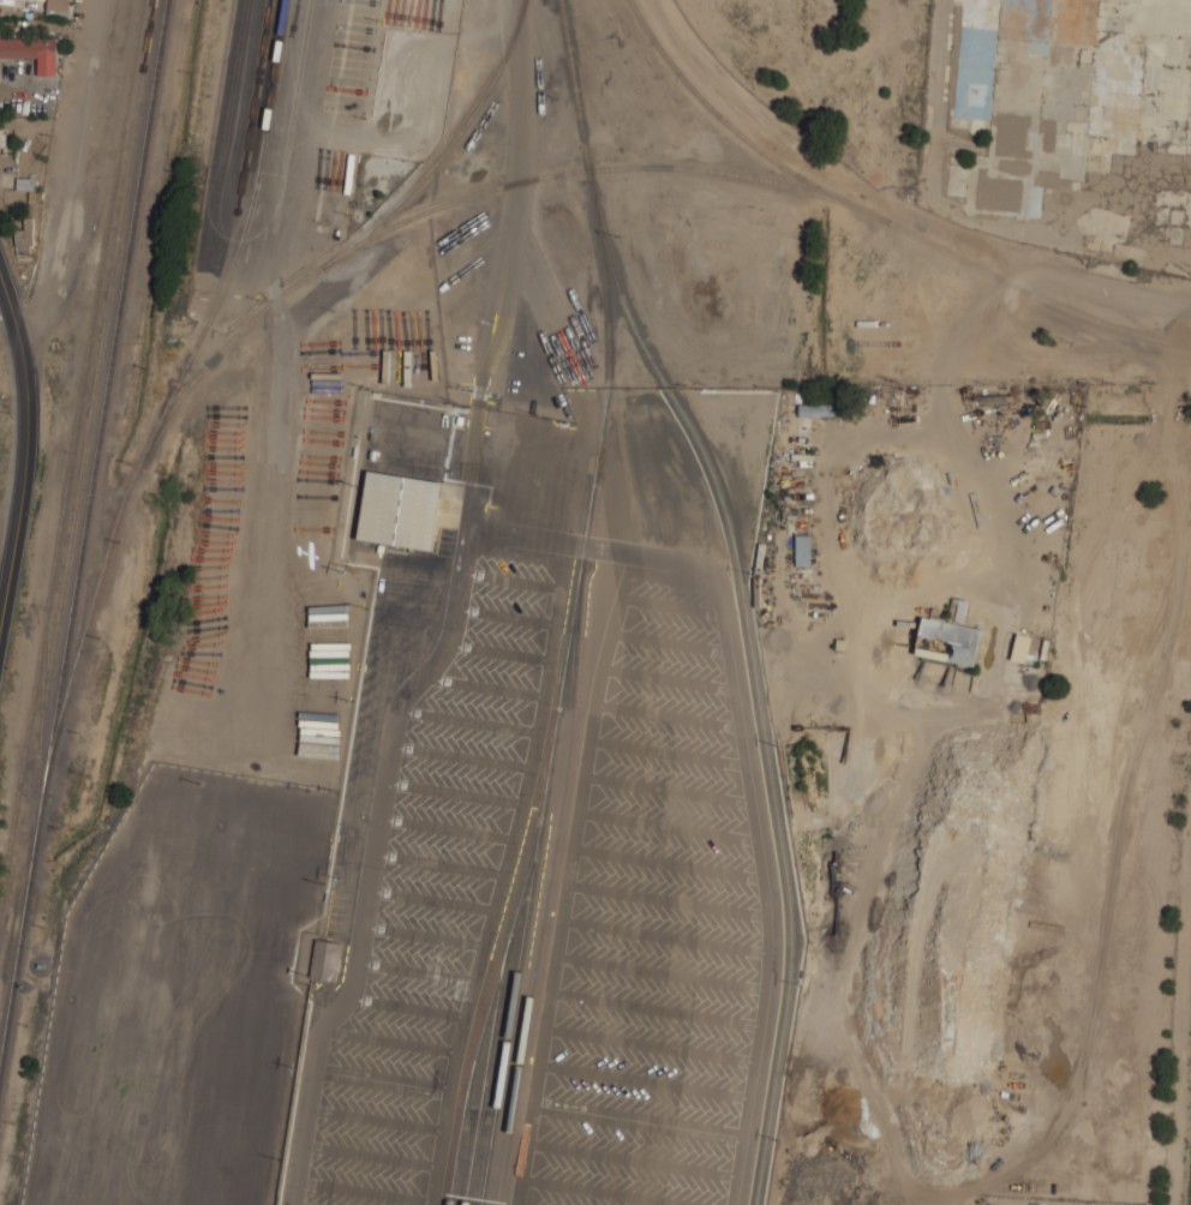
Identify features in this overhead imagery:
building: (56, 7)
building: (32, 50)
building: (0, 134)
railway: (447, 149)
railway: (598, 168)
road: (66, 180)
road: (509, 216)
railway: (879, 217)
building: (24, 236)
railway: (241, 240)
railway: (92, 310)
road: (13, 317)
railway: (221, 354)
railway: (96, 372)
building: (821, 409)
road: (474, 480)
road: (20, 498)
building: (399, 509)
railway: (83, 535)
road: (537, 539)
building: (802, 550)
road: (513, 581)
railway: (575, 604)
road: (671, 605)
road: (507, 616)
railway: (86, 628)
building: (947, 641)
road: (669, 642)
building: (1019, 647)
road: (499, 652)
road: (666, 677)
railway: (43, 682)
road: (485, 688)
railway: (760, 699)
road: (666, 714)
road: (469, 723)
road: (668, 751)
road: (460, 757)
railway: (40, 765)
railway: (23, 769)
road: (668, 789)
road: (453, 792)
road: (668, 826)
road: (445, 829)
road: (754, 829)
road: (371, 862)
road: (666, 863)
road: (438, 865)
road: (504, 875)
road: (568, 876)
parking lot: (432, 893)
road: (666, 899)
road: (431, 900)
railway: (544, 903)
parking lot: (654, 929)
road: (423, 935)
road: (665, 936)
building: (324, 960)
road: (415, 972)
road: (660, 972)
road: (407, 1007)
road: (656, 1008)
railway: (511, 1013)
road: (390, 1042)
road: (651, 1044)
railway: (472, 1071)
road: (383, 1080)
road: (646, 1081)
road: (377, 1119)
road: (639, 1120)
road: (371, 1156)
road: (633, 1159)
road: (365, 1192)
road: (602, 1192)

